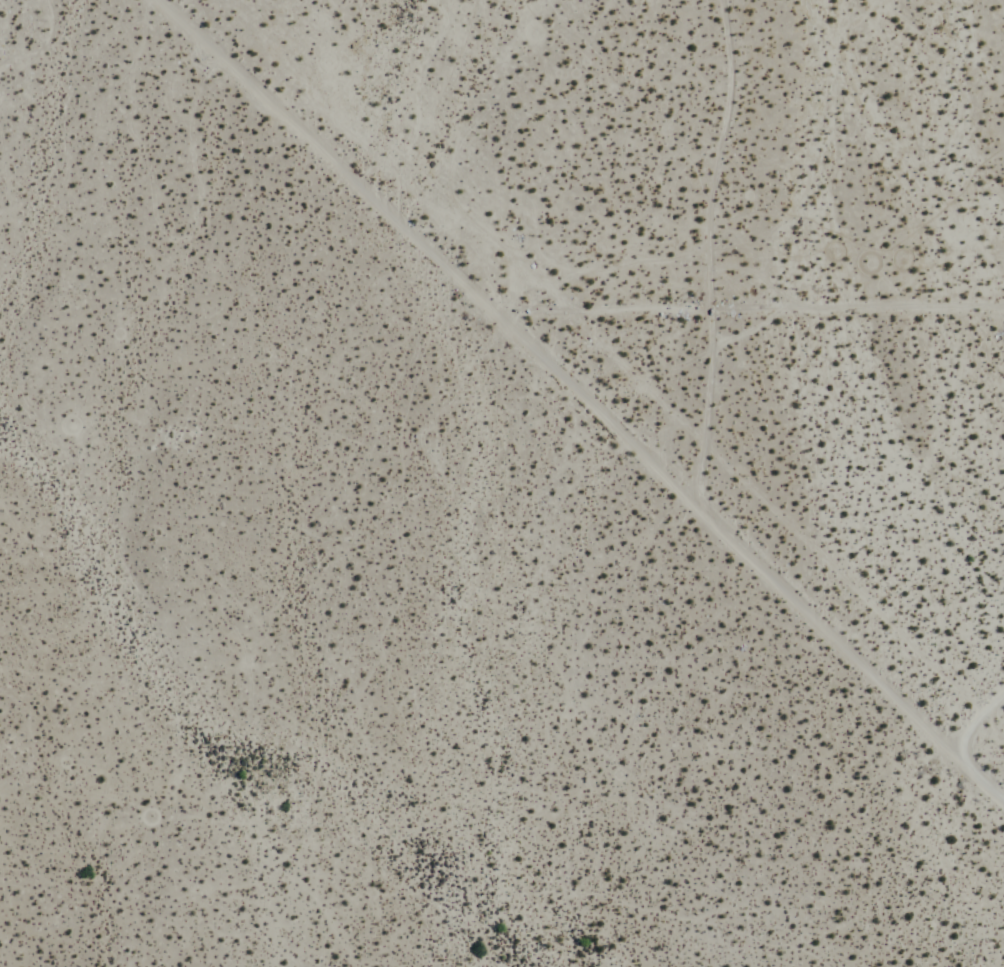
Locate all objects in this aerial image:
road: (747, 305)
road: (585, 400)
road: (973, 718)

